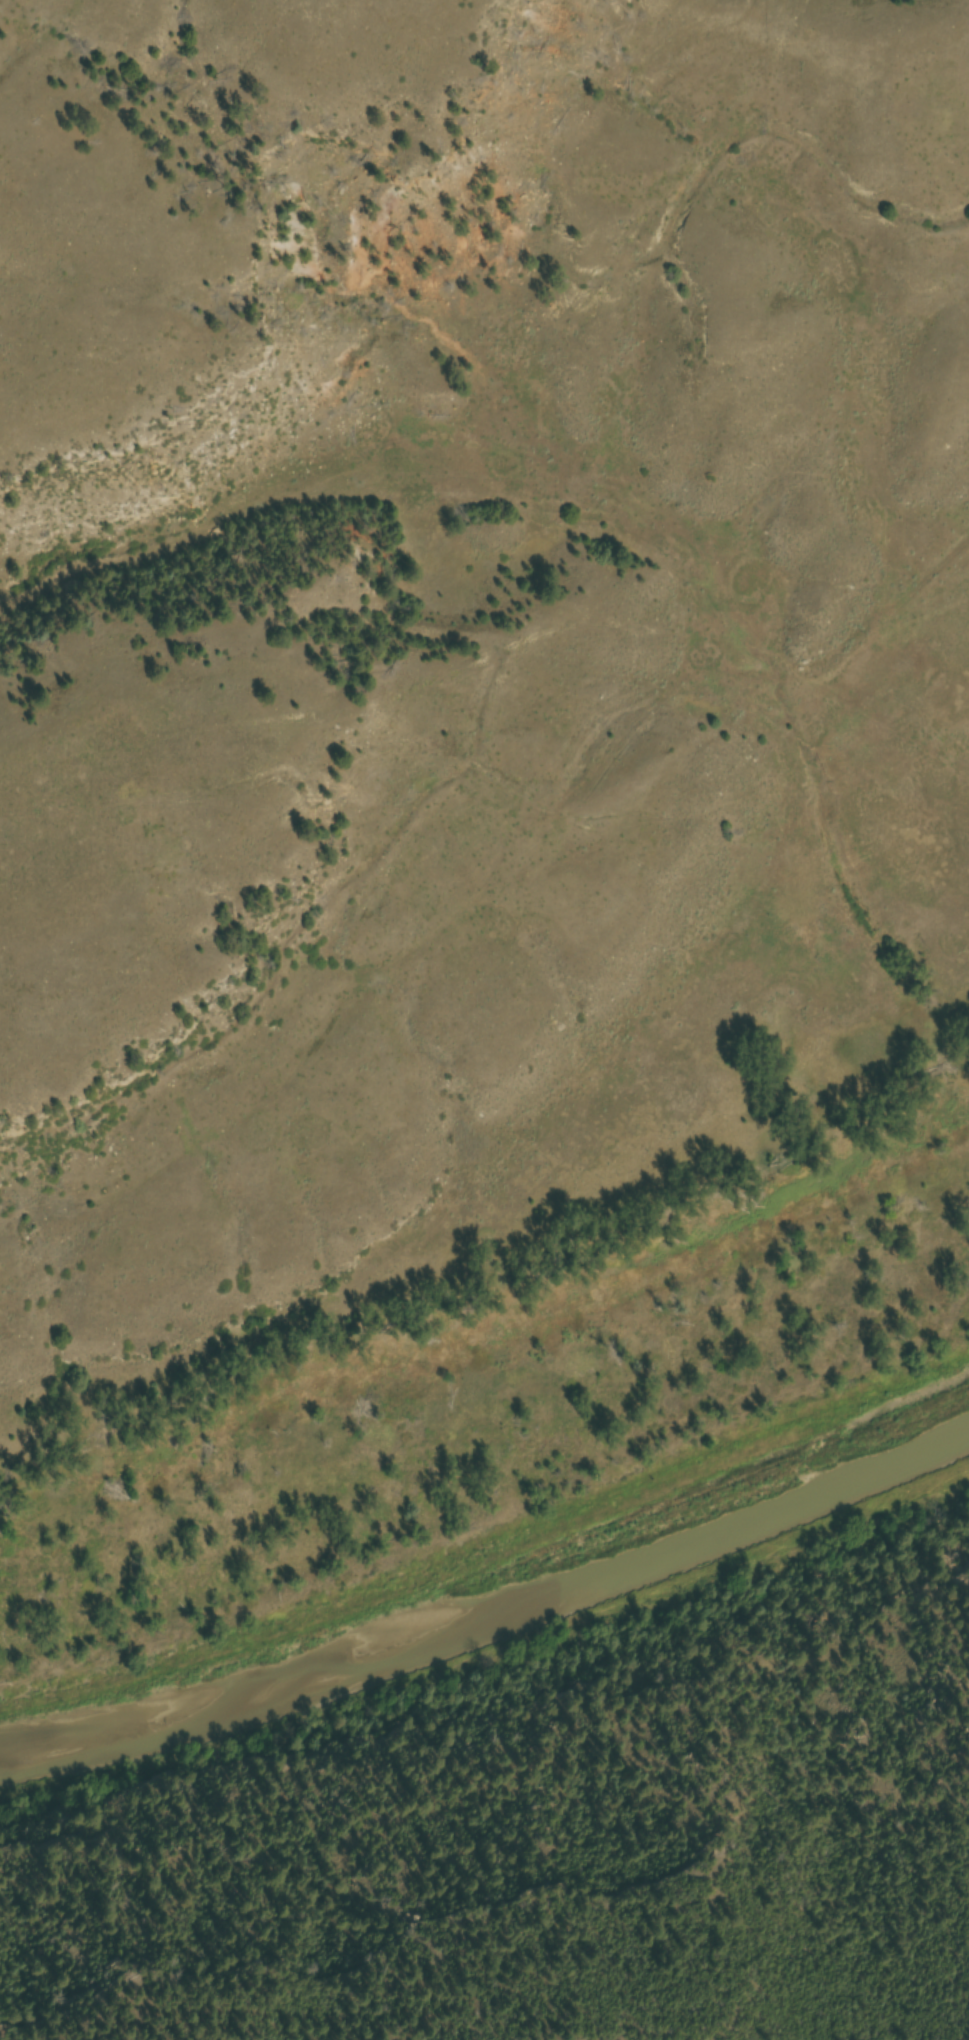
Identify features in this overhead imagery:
park: (483, 919)
river: (491, 1607)

